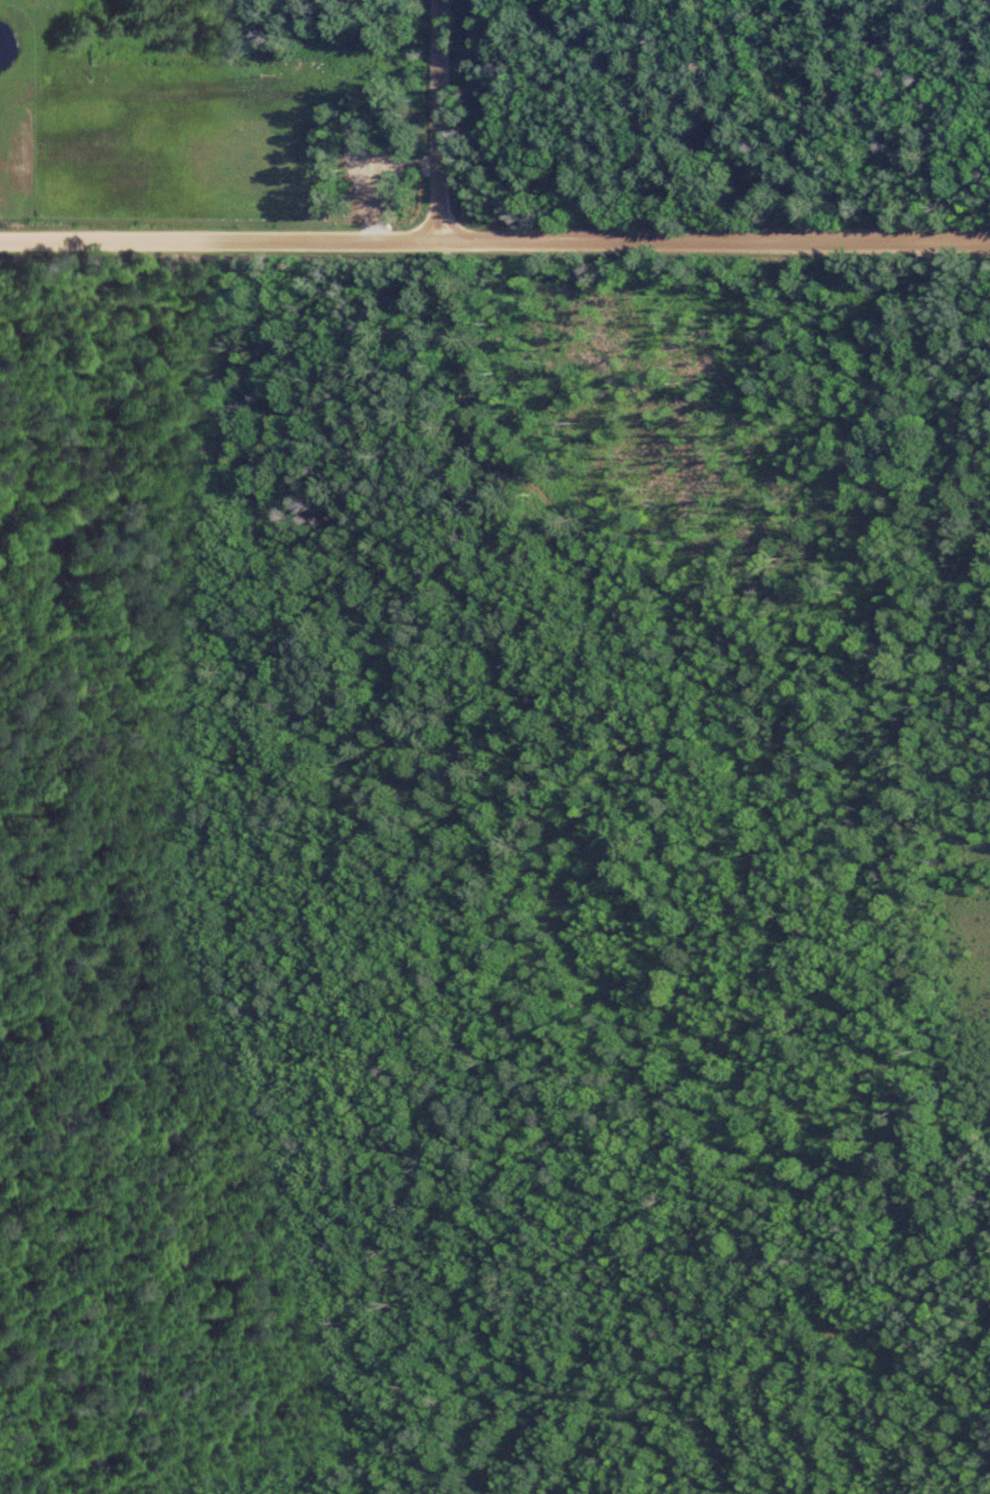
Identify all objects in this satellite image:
road: (442, 121)
road: (495, 242)

